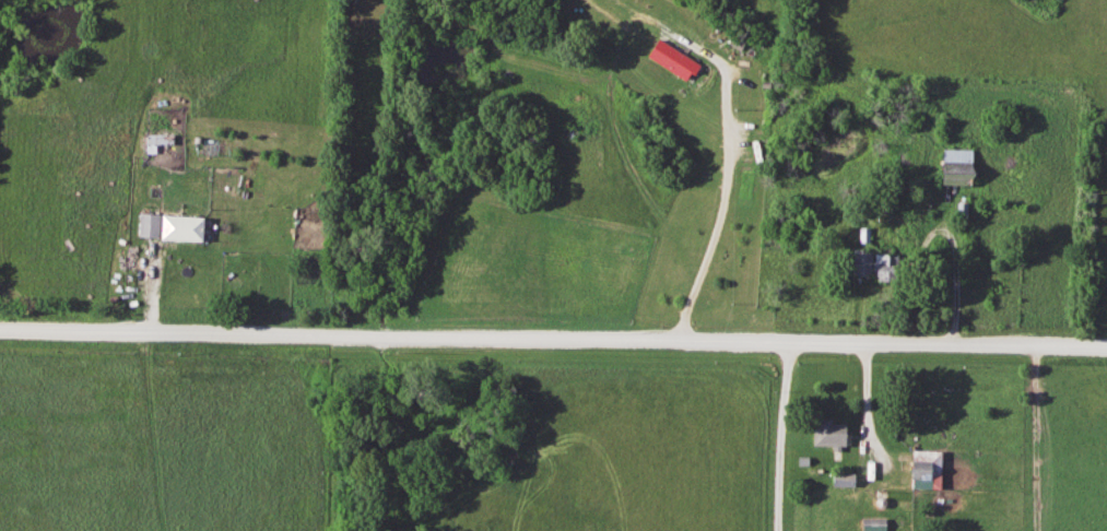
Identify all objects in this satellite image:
building: (670, 60)
building: (162, 142)
building: (952, 167)
road: (729, 203)
building: (167, 227)
building: (859, 261)
road: (956, 263)
building: (878, 264)
road: (553, 331)
road: (868, 417)
road: (789, 430)
building: (826, 434)
building: (921, 470)
building: (839, 480)
building: (871, 524)

